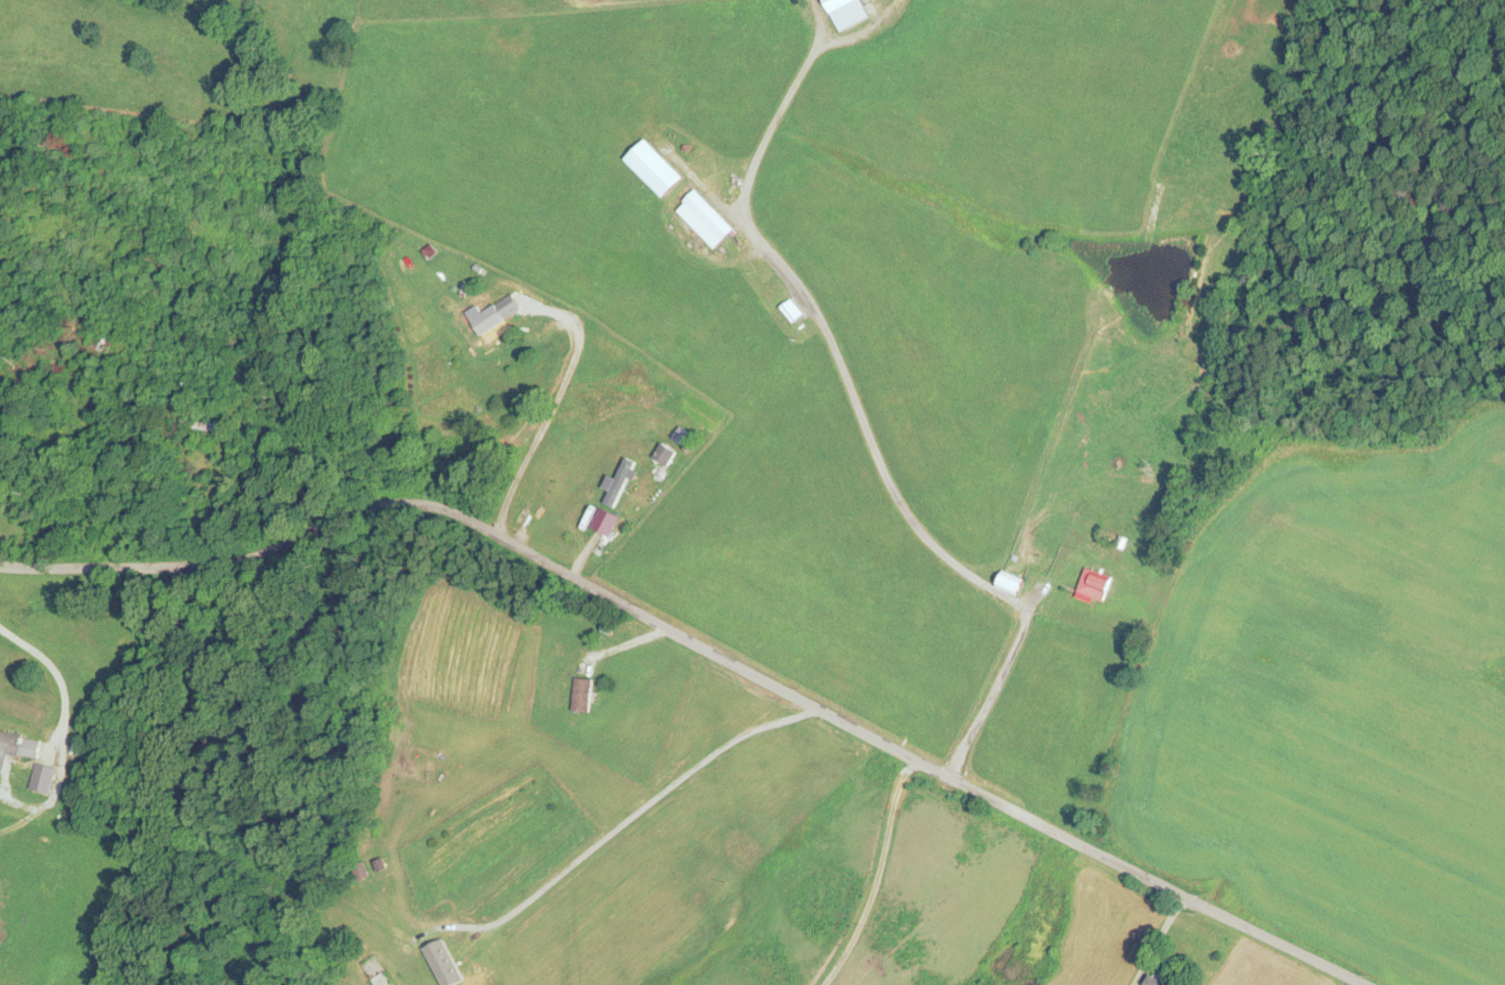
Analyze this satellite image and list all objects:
building: (843, 8)
building: (706, 217)
building: (488, 318)
road: (840, 383)
building: (201, 424)
building: (664, 453)
building: (619, 480)
road: (494, 546)
building: (1095, 583)
building: (582, 693)
building: (17, 746)
building: (43, 777)
road: (1212, 865)
building: (1158, 980)

